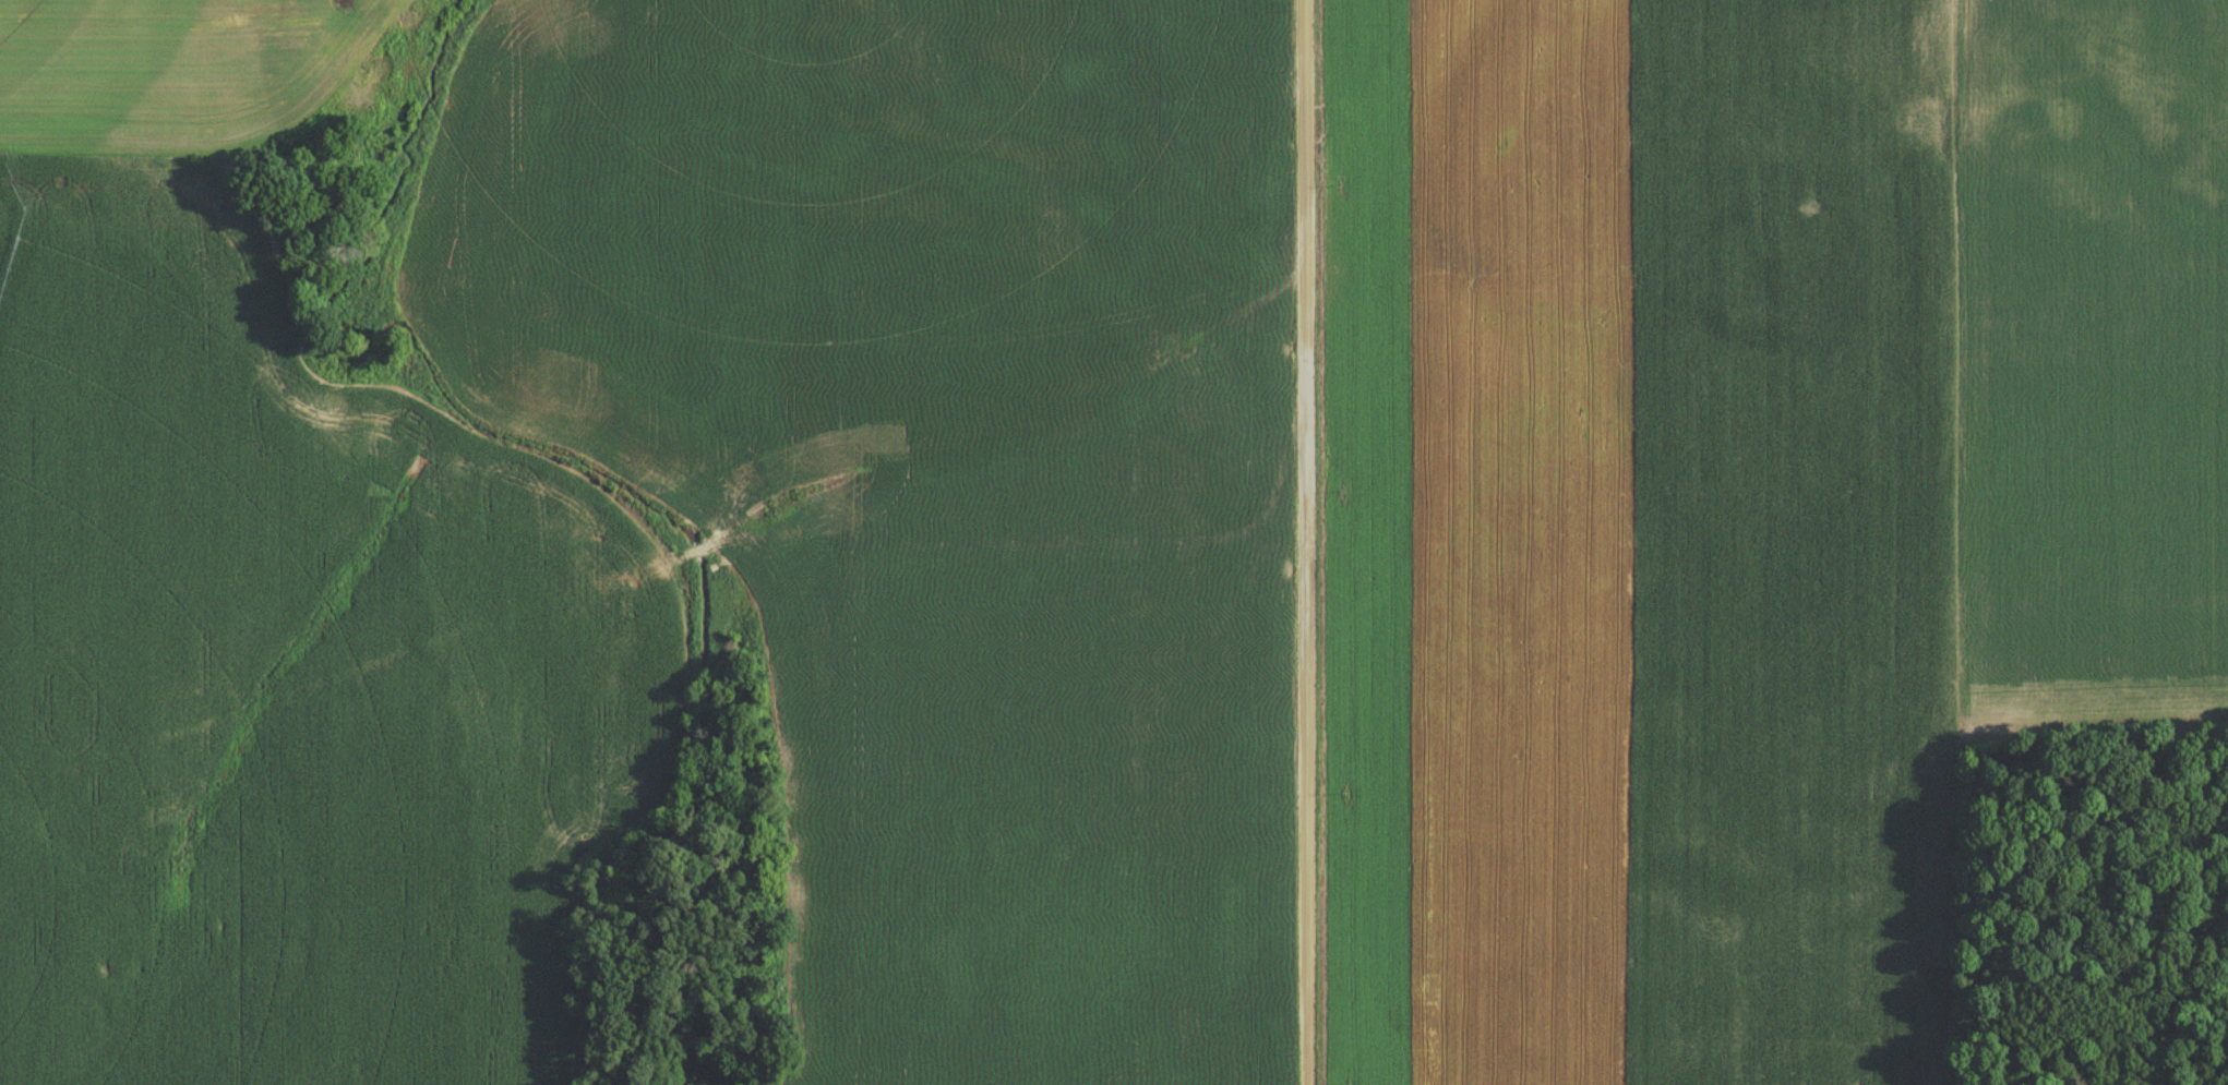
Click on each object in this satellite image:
road: (1303, 542)

